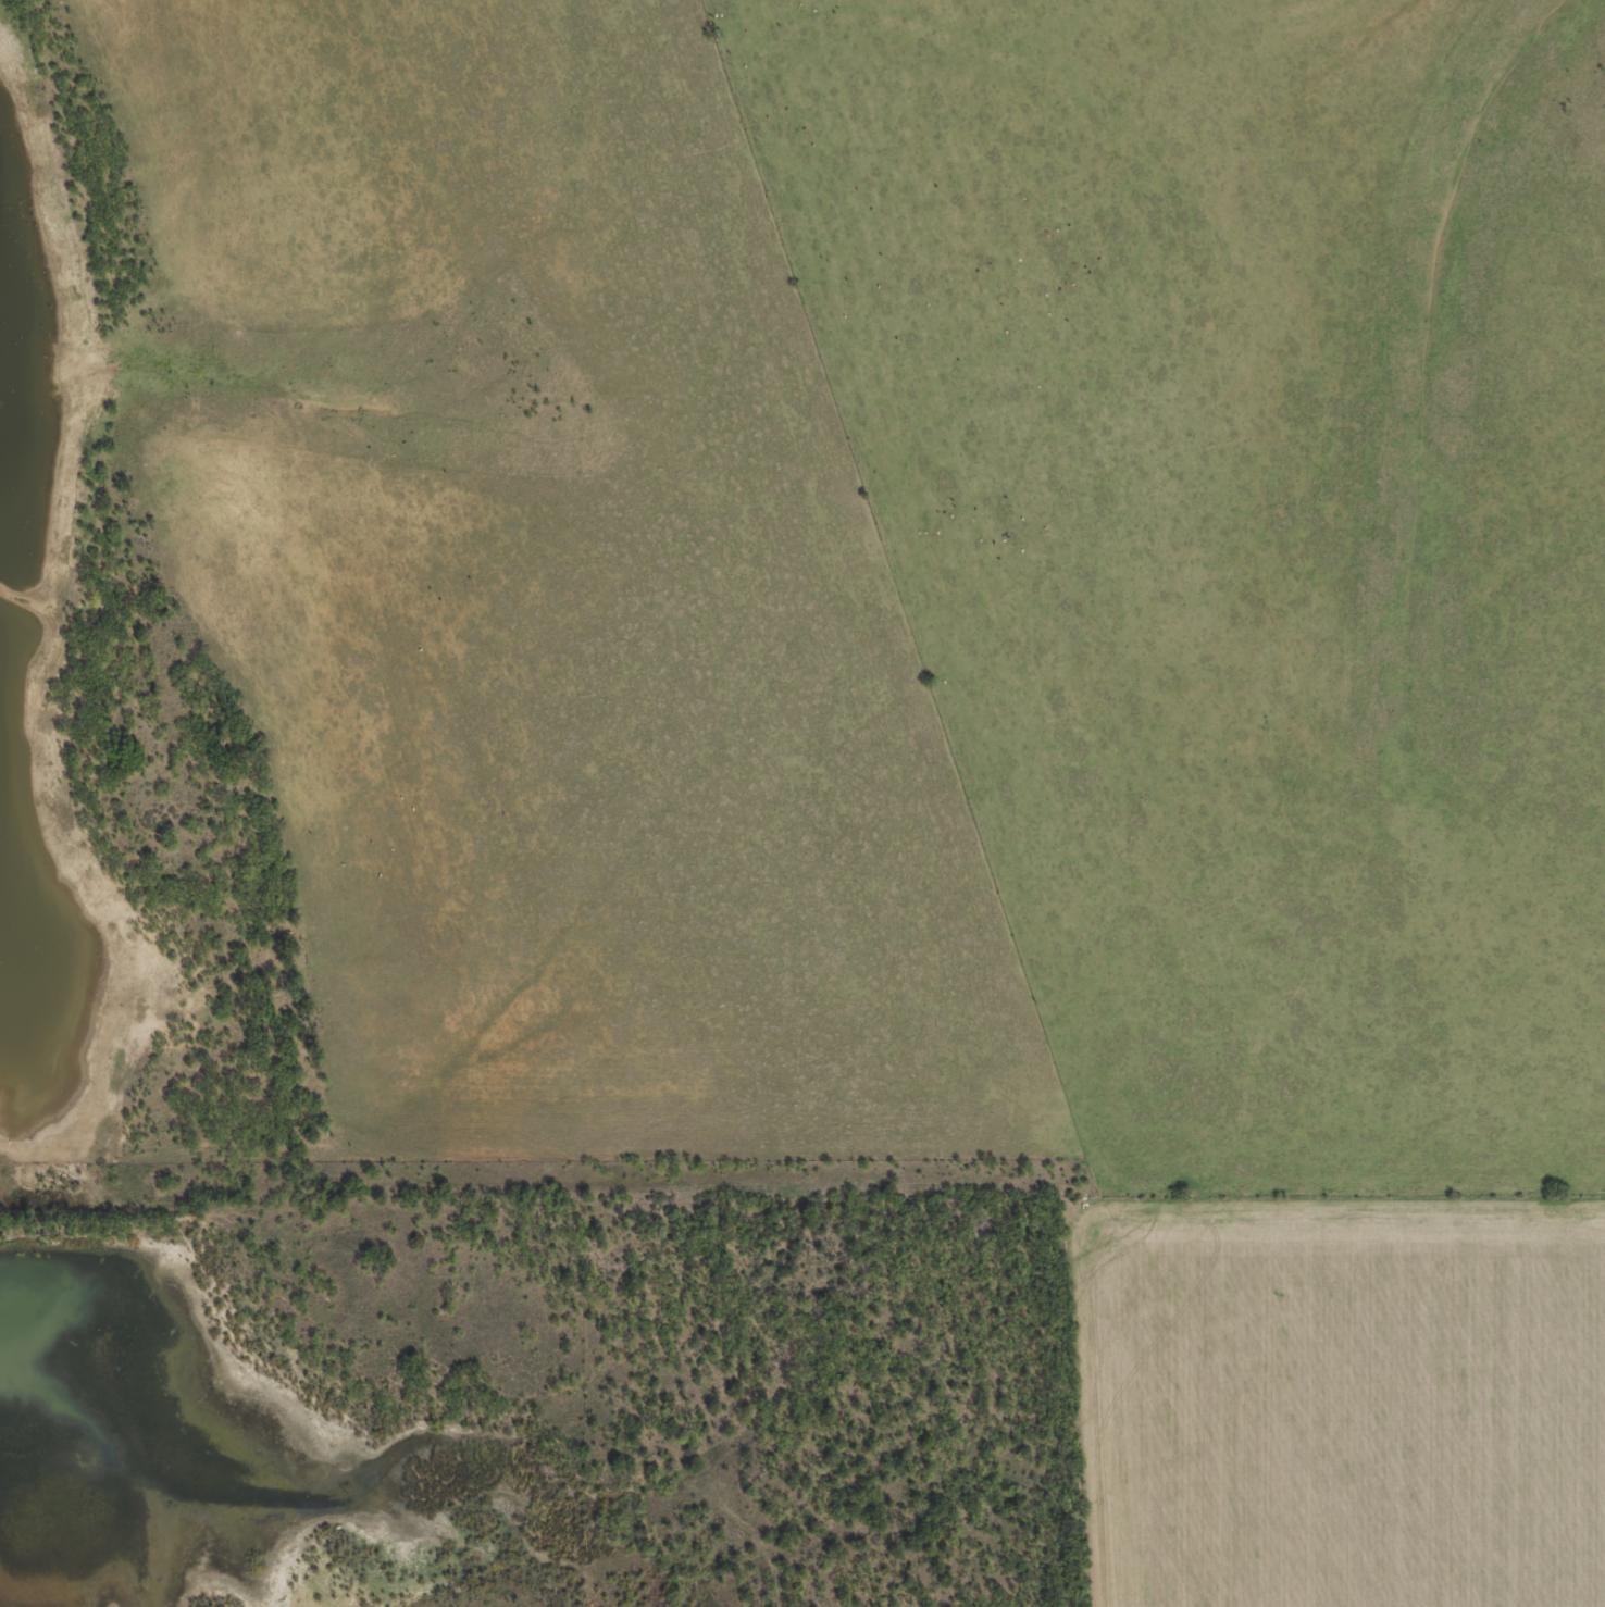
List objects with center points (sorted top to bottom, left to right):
dam: (96, 1226)

